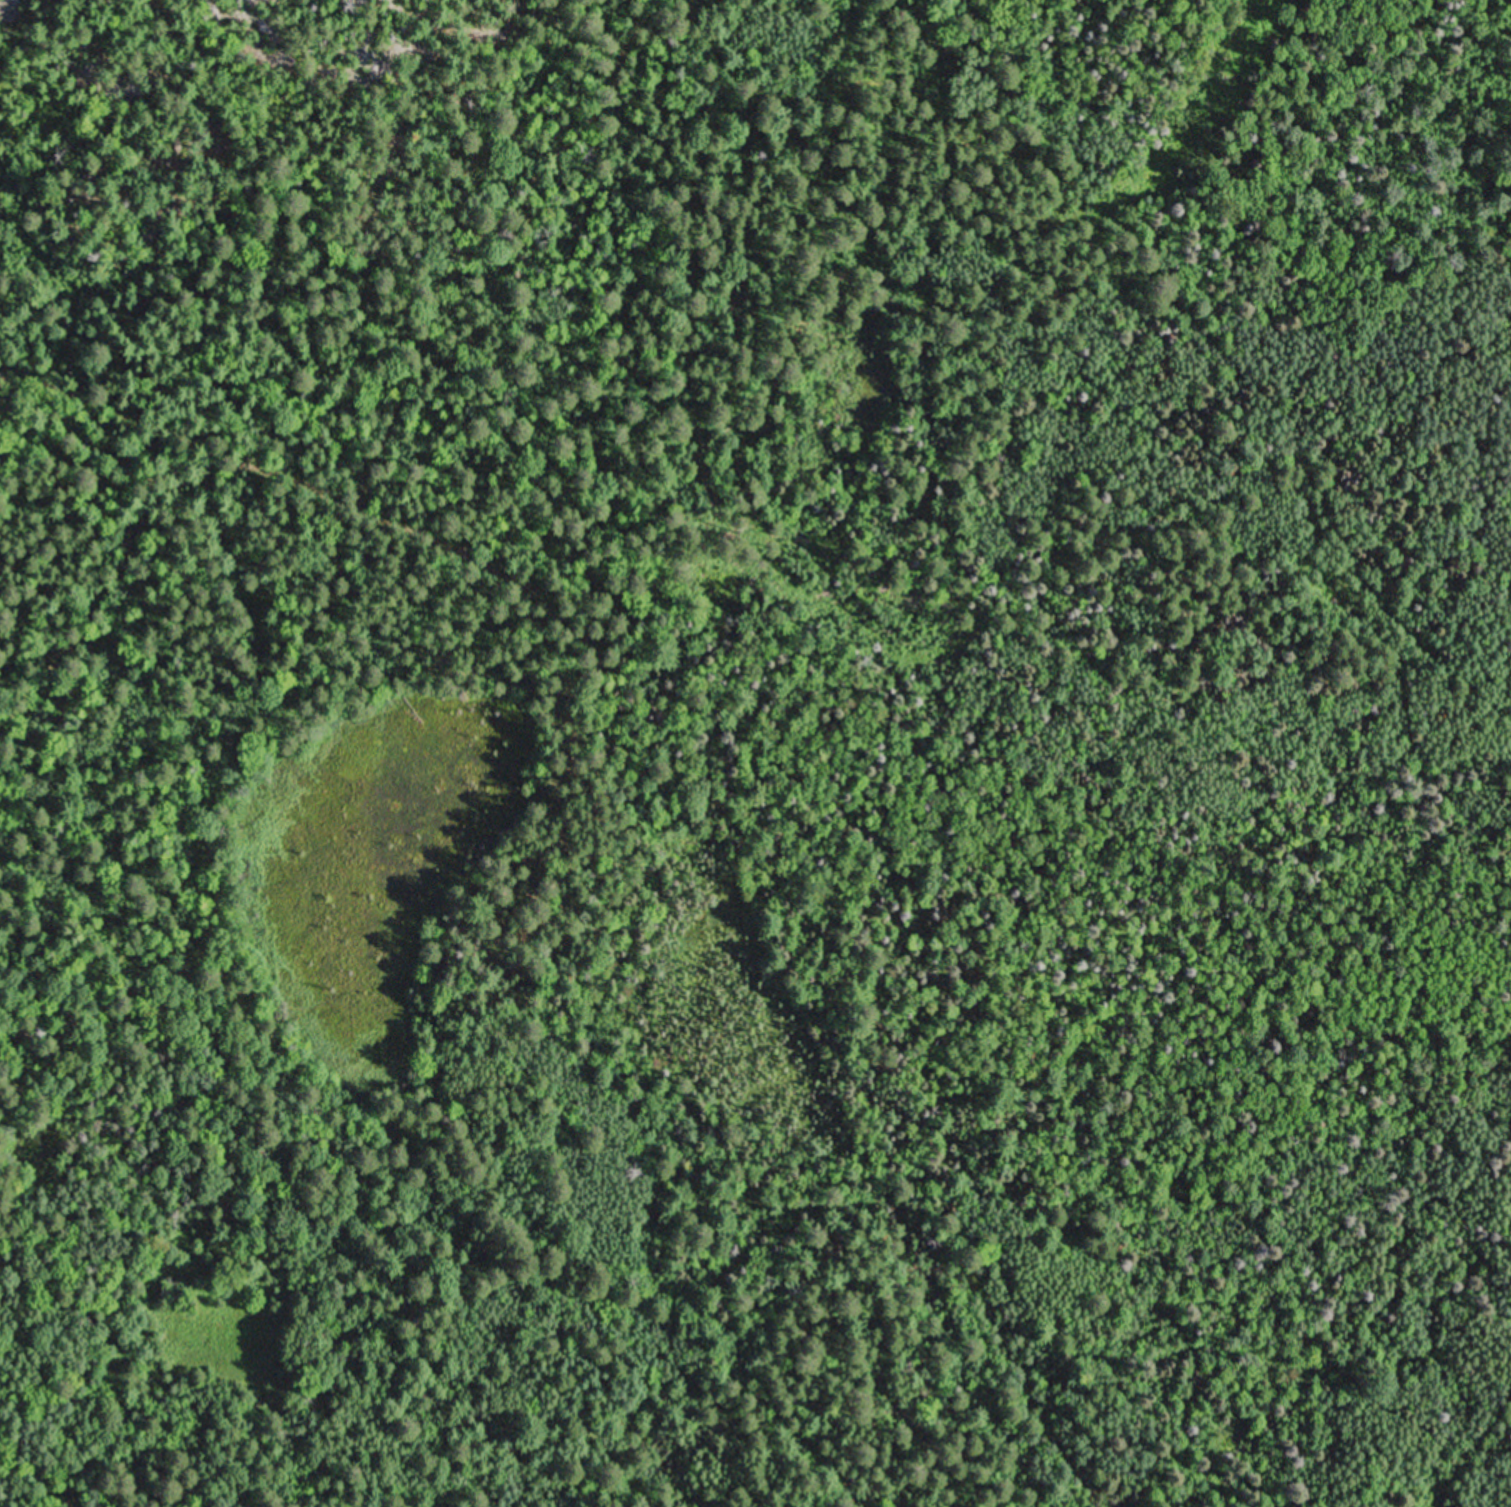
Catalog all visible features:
road: (1469, 1453)

